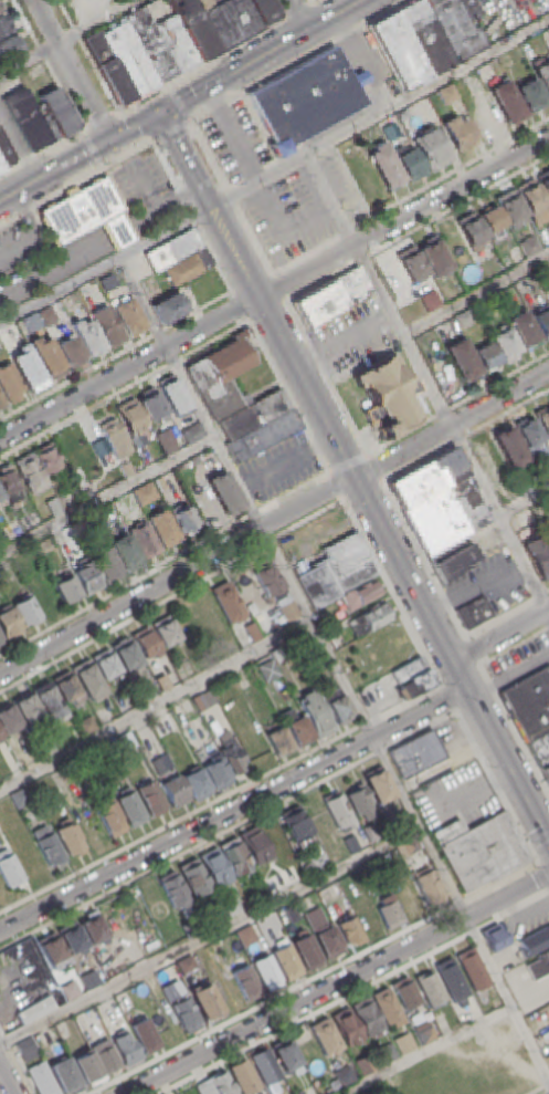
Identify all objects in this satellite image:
building: (94, 6)
building: (0, 10)
building: (0, 11)
building: (262, 11)
building: (469, 12)
road: (67, 15)
road: (297, 15)
building: (226, 20)
building: (4, 25)
building: (453, 28)
building: (192, 29)
building: (548, 31)
road: (66, 35)
building: (170, 35)
building: (423, 39)
building: (151, 46)
building: (11, 49)
building: (398, 52)
road: (263, 55)
building: (129, 58)
road: (367, 60)
building: (109, 69)
road: (71, 70)
building: (543, 76)
road: (159, 88)
building: (448, 95)
building: (531, 96)
building: (307, 101)
road: (180, 103)
building: (508, 104)
building: (57, 113)
traffic signals: (162, 113)
building: (27, 121)
building: (50, 128)
building: (460, 133)
road: (233, 135)
traffic signals: (109, 142)
parking lot: (235, 142)
road: (93, 149)
building: (432, 150)
building: (6, 154)
road: (81, 157)
building: (411, 166)
building: (1, 167)
building: (387, 167)
road: (274, 171)
road: (76, 184)
building: (546, 184)
building: (369, 185)
parking lot: (344, 188)
road: (231, 200)
building: (534, 200)
building: (513, 211)
building: (87, 215)
parking lot: (289, 217)
road: (192, 218)
road: (403, 219)
building: (493, 221)
building: (472, 231)
road: (19, 244)
building: (530, 247)
parking lot: (18, 248)
building: (173, 251)
building: (435, 259)
building: (412, 265)
building: (188, 268)
road: (53, 273)
building: (109, 284)
road: (281, 289)
road: (476, 294)
building: (332, 299)
building: (169, 309)
road: (241, 309)
building: (47, 316)
building: (130, 319)
building: (465, 320)
building: (31, 323)
building: (542, 323)
building: (107, 326)
building: (525, 332)
building: (89, 340)
building: (506, 345)
building: (70, 351)
building: (46, 356)
building: (486, 357)
building: (463, 360)
building: (28, 368)
road: (129, 371)
building: (222, 376)
road: (329, 379)
road: (427, 381)
building: (11, 384)
building: (389, 392)
building: (175, 397)
road: (289, 398)
building: (1, 402)
building: (151, 407)
building: (130, 417)
road: (498, 417)
building: (543, 420)
building: (258, 427)
road: (452, 428)
building: (528, 433)
building: (192, 434)
building: (115, 438)
building: (167, 442)
building: (510, 448)
building: (47, 460)
road: (349, 463)
road: (416, 465)
parking lot: (281, 469)
road: (377, 469)
building: (126, 470)
building: (31, 475)
road: (353, 478)
building: (427, 479)
building: (9, 481)
building: (160, 485)
road: (336, 487)
road: (106, 493)
building: (225, 493)
building: (146, 494)
building: (0, 498)
building: (68, 500)
road: (525, 502)
building: (54, 507)
building: (447, 517)
building: (184, 518)
building: (525, 519)
building: (165, 529)
building: (144, 540)
building: (125, 552)
building: (540, 558)
building: (453, 559)
road: (425, 560)
building: (106, 564)
building: (336, 571)
road: (177, 575)
building: (267, 576)
building: (86, 577)
building: (66, 587)
road: (392, 592)
building: (361, 594)
road: (171, 595)
building: (228, 601)
building: (286, 606)
building: (25, 609)
building: (474, 611)
building: (208, 613)
building: (370, 618)
building: (8, 623)
building: (166, 629)
building: (251, 629)
road: (500, 634)
building: (0, 636)
building: (146, 640)
road: (472, 649)
building: (125, 650)
park: (376, 652)
building: (105, 663)
building: (408, 668)
building: (268, 669)
road: (337, 669)
building: (87, 678)
building: (161, 680)
building: (416, 681)
building: (64, 685)
building: (145, 689)
road: (447, 697)
building: (47, 699)
building: (202, 699)
road: (155, 701)
building: (529, 702)
building: (337, 704)
building: (27, 707)
building: (314, 712)
building: (8, 719)
building: (85, 723)
building: (163, 723)
road: (514, 726)
building: (298, 730)
building: (0, 736)
building: (277, 739)
building: (125, 740)
building: (44, 744)
building: (539, 747)
building: (230, 750)
building: (415, 753)
building: (444, 763)
building: (158, 764)
building: (213, 768)
building: (546, 771)
building: (194, 782)
building: (378, 785)
road: (497, 786)
building: (173, 790)
road: (220, 796)
building: (150, 798)
building: (356, 798)
building: (129, 808)
road: (233, 810)
building: (337, 810)
building: (108, 814)
building: (315, 815)
building: (296, 826)
building: (67, 835)
road: (540, 838)
building: (350, 842)
building: (46, 844)
building: (410, 844)
building: (254, 845)
road: (530, 845)
building: (481, 848)
building: (234, 856)
building: (317, 862)
building: (8, 866)
building: (214, 866)
road: (543, 874)
building: (194, 877)
building: (427, 886)
building: (171, 888)
building: (408, 897)
building: (230, 905)
building: (289, 911)
building: (214, 913)
building: (389, 914)
building: (314, 916)
building: (189, 926)
building: (89, 927)
building: (349, 929)
road: (209, 932)
building: (245, 935)
building: (493, 936)
building: (70, 937)
building: (328, 940)
building: (535, 940)
building: (50, 947)
building: (306, 949)
building: (285, 961)
building: (184, 963)
building: (539, 963)
building: (471, 968)
building: (265, 970)
building: (451, 980)
building: (245, 982)
road: (337, 982)
building: (66, 986)
building: (429, 988)
building: (224, 990)
building: (404, 993)
building: (205, 1002)
building: (386, 1006)
building: (184, 1013)
building: (366, 1015)
building: (91, 1020)
building: (346, 1025)
building: (424, 1033)
building: (145, 1034)
building: (325, 1036)
building: (402, 1041)
building: (125, 1046)
building: (25, 1049)
road: (422, 1050)
building: (383, 1052)
building: (283, 1054)
building: (104, 1055)
road: (15, 1063)
building: (264, 1065)
building: (85, 1066)
building: (63, 1073)
building: (242, 1075)
building: (41, 1079)
road: (6, 1082)
building: (221, 1083)

